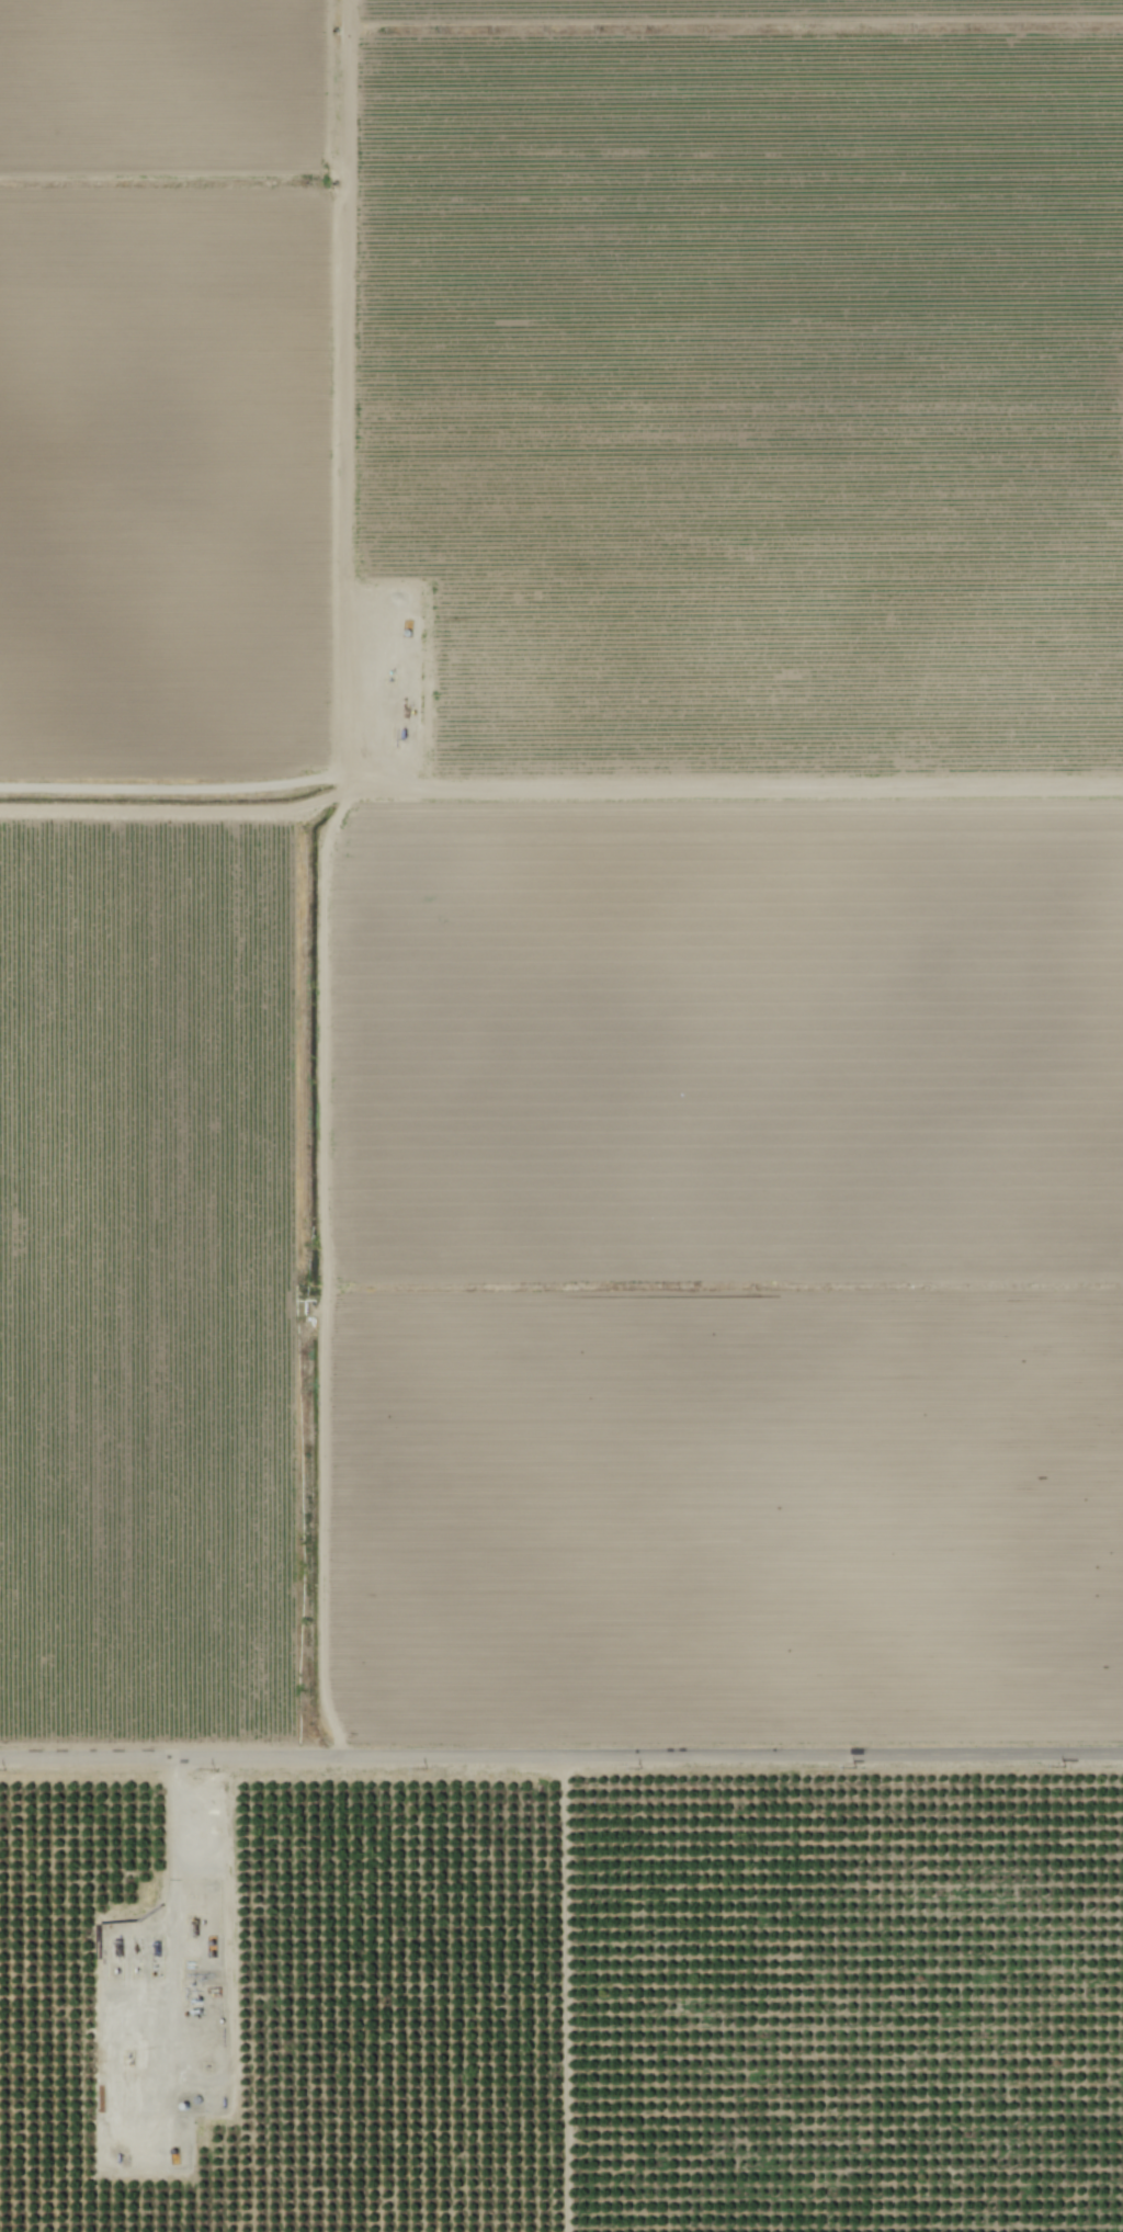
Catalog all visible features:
road: (561, 1757)

